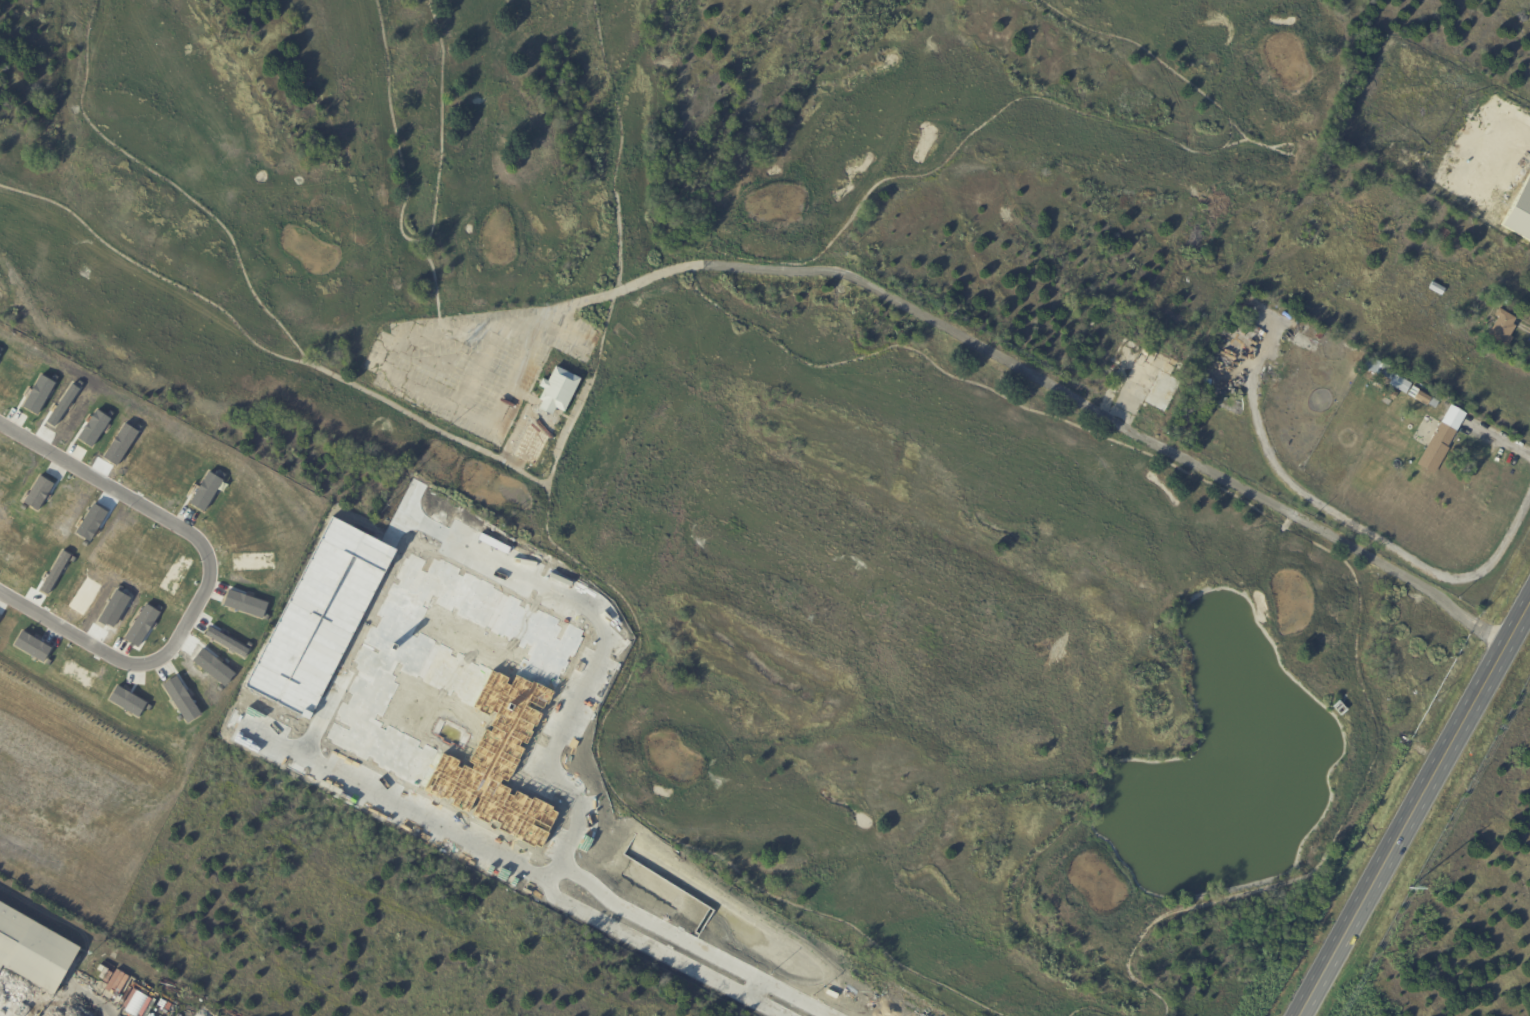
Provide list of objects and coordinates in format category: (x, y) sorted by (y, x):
road: (1162, 63)
road: (1229, 134)
road: (1293, 149)
road: (614, 188)
building: (1444, 235)
road: (415, 242)
road: (239, 261)
road: (152, 273)
road: (856, 279)
building: (1438, 289)
building: (1503, 329)
building: (1320, 336)
parking lot: (479, 366)
building: (1383, 371)
road: (995, 392)
building: (1163, 392)
building: (1391, 394)
building: (1423, 398)
road: (399, 408)
building: (544, 416)
park: (787, 421)
road: (1502, 441)
building: (1438, 449)
road: (1366, 532)
building: (435, 534)
road: (214, 578)
building: (444, 585)
road: (445, 666)
building: (1338, 707)
building: (418, 757)
road: (1411, 802)
road: (609, 807)
road: (650, 825)
building: (34, 951)
road: (1089, 1009)

